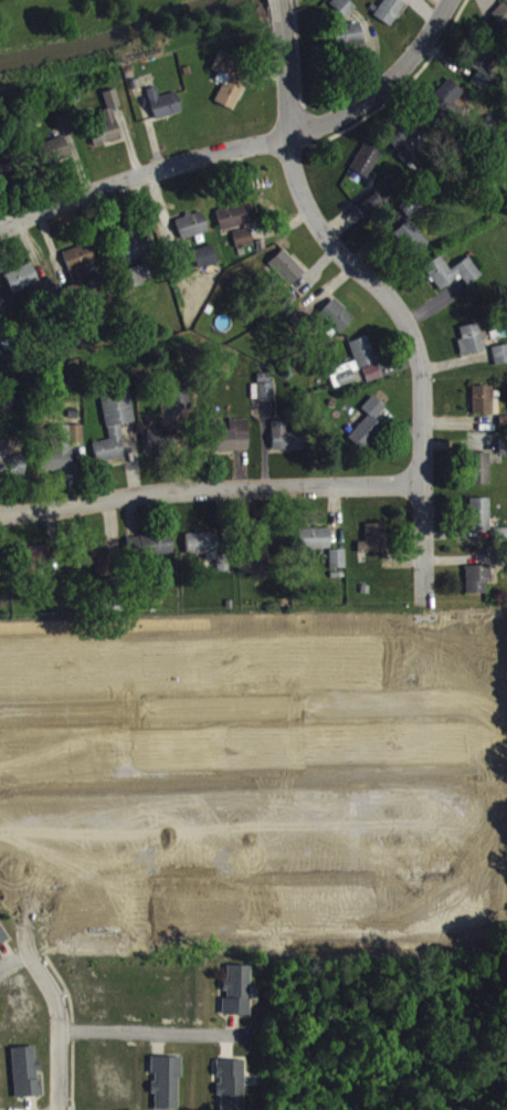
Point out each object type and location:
building: (392, 0)
road: (282, 11)
building: (342, 14)
building: (390, 18)
building: (501, 20)
building: (349, 48)
building: (479, 67)
building: (228, 90)
building: (451, 106)
building: (165, 113)
building: (107, 130)
building: (402, 143)
road: (247, 148)
building: (55, 159)
building: (367, 169)
building: (8, 174)
building: (369, 212)
building: (232, 224)
building: (192, 234)
building: (243, 247)
building: (411, 247)
building: (134, 254)
building: (205, 265)
building: (80, 270)
building: (287, 275)
building: (453, 281)
building: (22, 286)
building: (133, 287)
road: (382, 294)
building: (336, 325)
building: (472, 348)
building: (363, 362)
building: (500, 364)
building: (373, 381)
building: (263, 396)
building: (483, 409)
building: (181, 417)
building: (369, 432)
building: (115, 434)
building: (76, 442)
building: (232, 446)
building: (287, 446)
building: (161, 448)
building: (504, 455)
building: (56, 469)
building: (10, 472)
building: (480, 478)
road: (210, 493)
building: (480, 523)
building: (501, 543)
building: (316, 547)
building: (374, 547)
building: (151, 553)
building: (210, 557)
building: (93, 562)
building: (260, 567)
building: (338, 568)
building: (478, 588)
road: (424, 690)
road: (212, 706)
road: (237, 858)
road: (14, 865)
building: (2, 946)
building: (237, 999)
road: (57, 1016)
road: (149, 1032)
building: (25, 1081)
building: (166, 1087)
building: (231, 1089)

